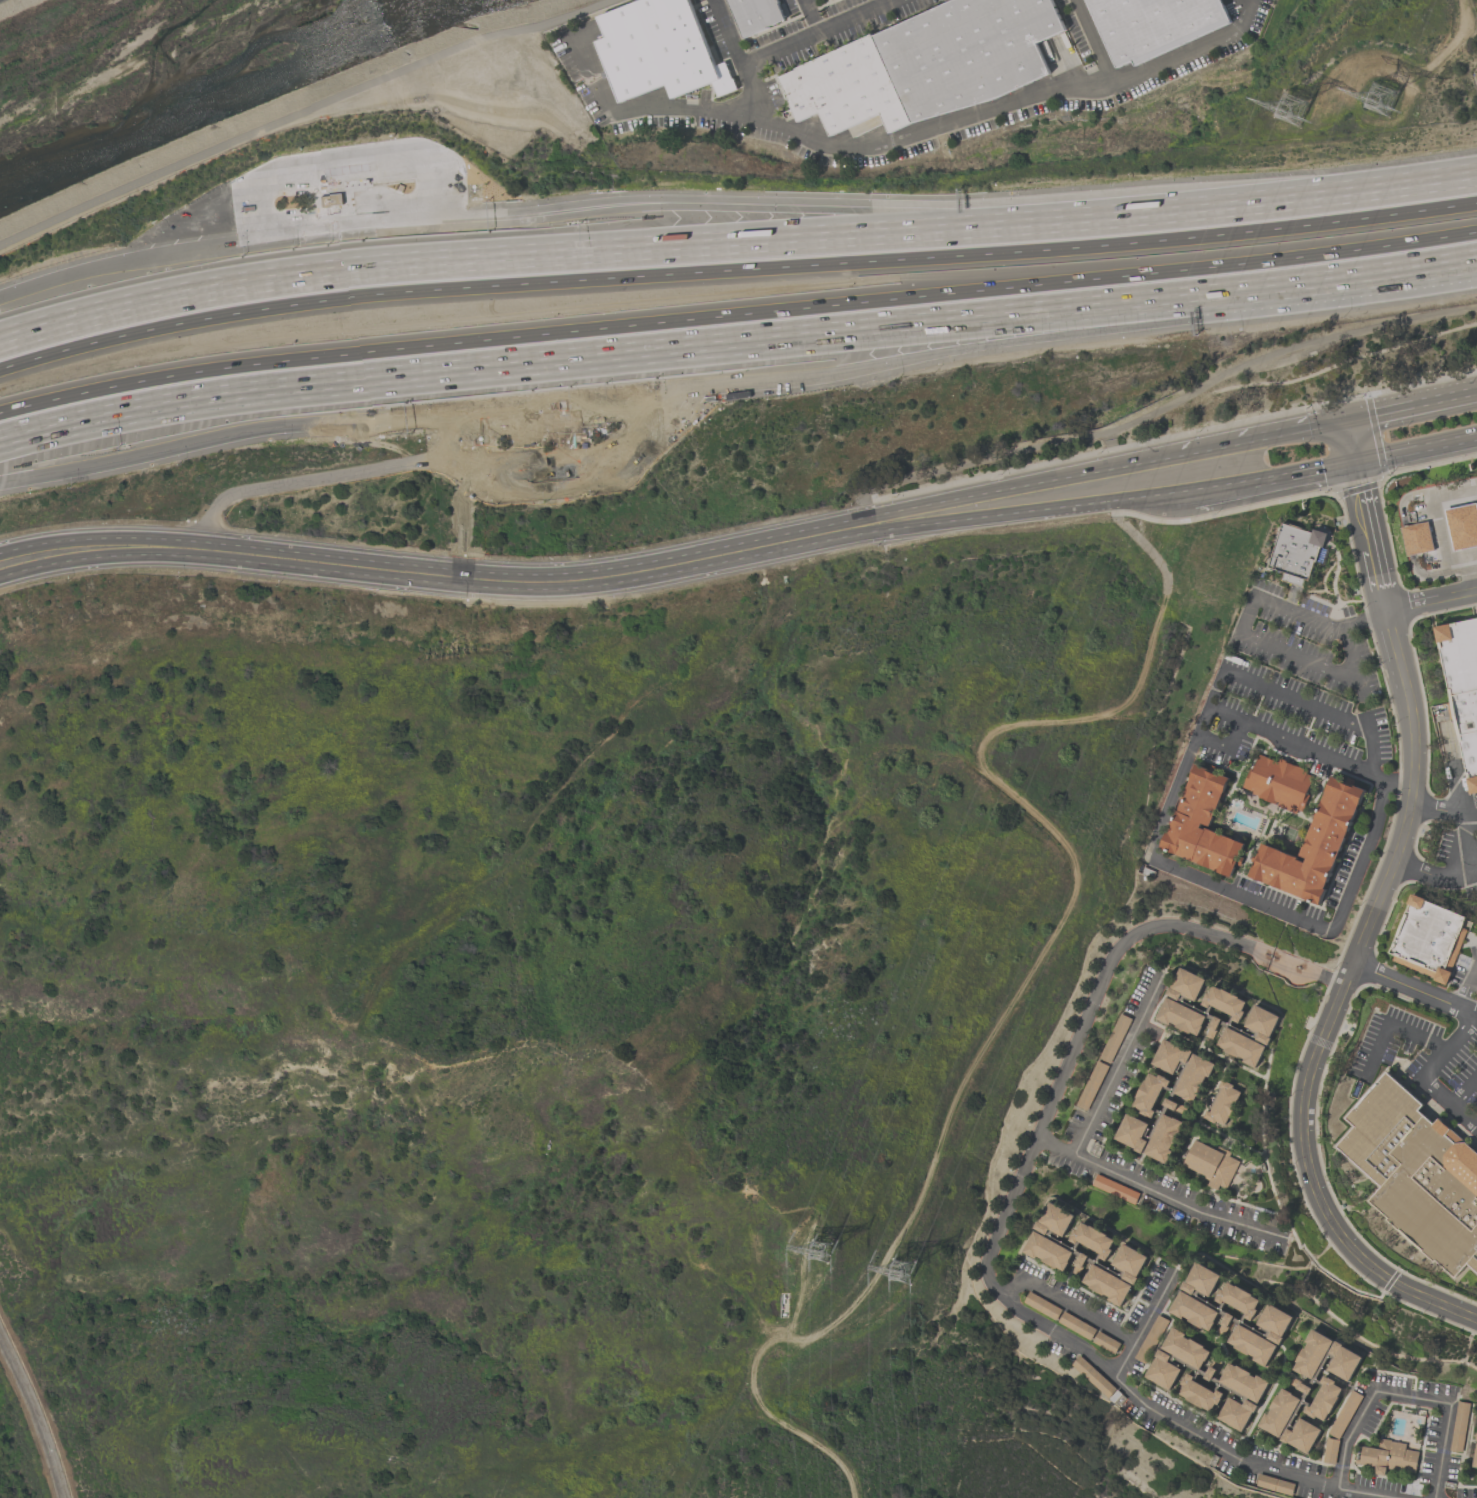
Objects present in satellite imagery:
building: (756, 14)
road: (810, 17)
building: (1154, 25)
road: (818, 33)
road: (1096, 43)
building: (658, 50)
building: (967, 53)
road: (739, 61)
river: (175, 79)
building: (846, 89)
power tower: (1391, 90)
power tower: (1301, 104)
road: (303, 111)
road: (905, 138)
road: (339, 162)
road: (1366, 195)
road: (769, 214)
road: (624, 258)
road: (140, 259)
road: (734, 269)
road: (1407, 269)
road: (737, 314)
road: (1034, 333)
road: (667, 348)
road: (577, 399)
road: (1411, 407)
road: (1294, 431)
road: (211, 437)
road: (1349, 441)
road: (1415, 448)
traffic signals: (1353, 460)
road: (1302, 471)
road: (311, 479)
road: (1220, 488)
road: (557, 493)
road: (979, 496)
road: (952, 522)
road: (1439, 522)
building: (1462, 525)
road: (108, 535)
building: (1418, 539)
building: (1294, 553)
road: (107, 557)
road: (1475, 564)
road: (1475, 571)
road: (467, 577)
road: (1431, 601)
road: (1244, 630)
building: (1461, 691)
road: (1299, 701)
road: (1227, 745)
road: (1398, 783)
building: (1276, 784)
road: (1443, 812)
building: (1203, 826)
building: (1315, 847)
road: (1433, 879)
road: (1366, 929)
road: (1326, 931)
building: (1430, 937)
road: (1026, 983)
building: (1186, 985)
road: (1468, 989)
road: (1413, 991)
building: (1225, 1002)
building: (1180, 1016)
park: (557, 1020)
building: (1263, 1023)
road: (1392, 1025)
building: (1241, 1046)
building: (1170, 1055)
road: (1119, 1064)
road: (1064, 1073)
road: (1427, 1074)
building: (1194, 1077)
road: (1463, 1086)
building: (1150, 1093)
building: (1222, 1103)
building: (1133, 1132)
building: (1163, 1138)
building: (1211, 1164)
building: (1417, 1176)
road: (1157, 1192)
building: (1131, 1196)
building: (1056, 1219)
building: (1094, 1239)
power tower: (838, 1249)
building: (1049, 1250)
building: (1130, 1262)
power tower: (915, 1271)
building: (1202, 1280)
building: (1107, 1284)
building: (1240, 1299)
road: (1066, 1303)
building: (1194, 1310)
building: (1276, 1322)
building: (1226, 1323)
building: (1152, 1339)
building: (1253, 1344)
building: (1185, 1347)
building: (1313, 1353)
building: (1344, 1360)
building: (1163, 1369)
building: (1244, 1381)
building: (1198, 1393)
road: (1406, 1396)
building: (1324, 1399)
building: (1237, 1412)
building: (1280, 1412)
building: (1348, 1413)
road: (34, 1415)
road: (1189, 1426)
building: (1461, 1427)
building: (1302, 1435)
building: (1476, 1437)
building: (1389, 1457)
building: (1475, 1458)
building: (1274, 1486)

